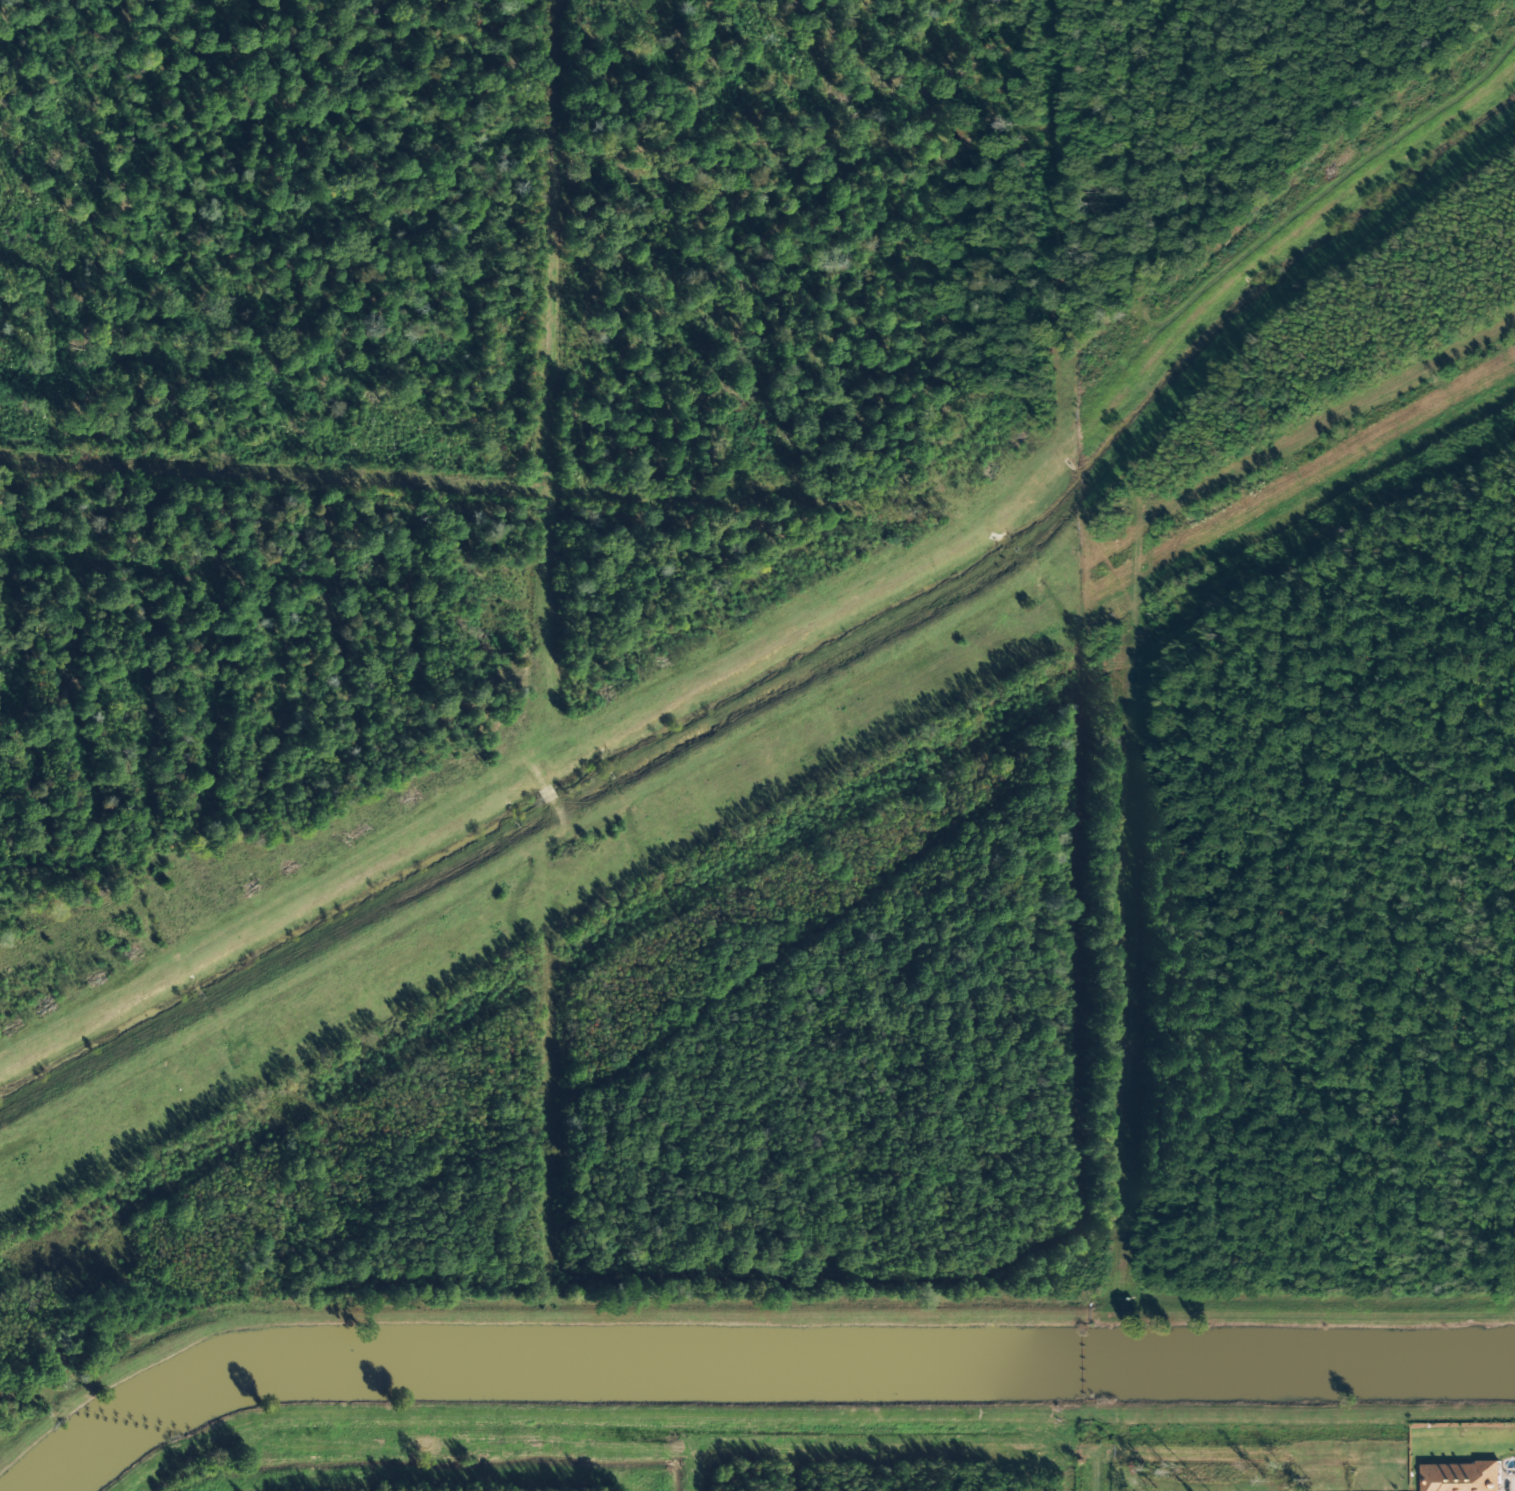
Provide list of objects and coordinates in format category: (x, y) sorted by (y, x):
road: (1096, 1468)
building: (1461, 1477)

